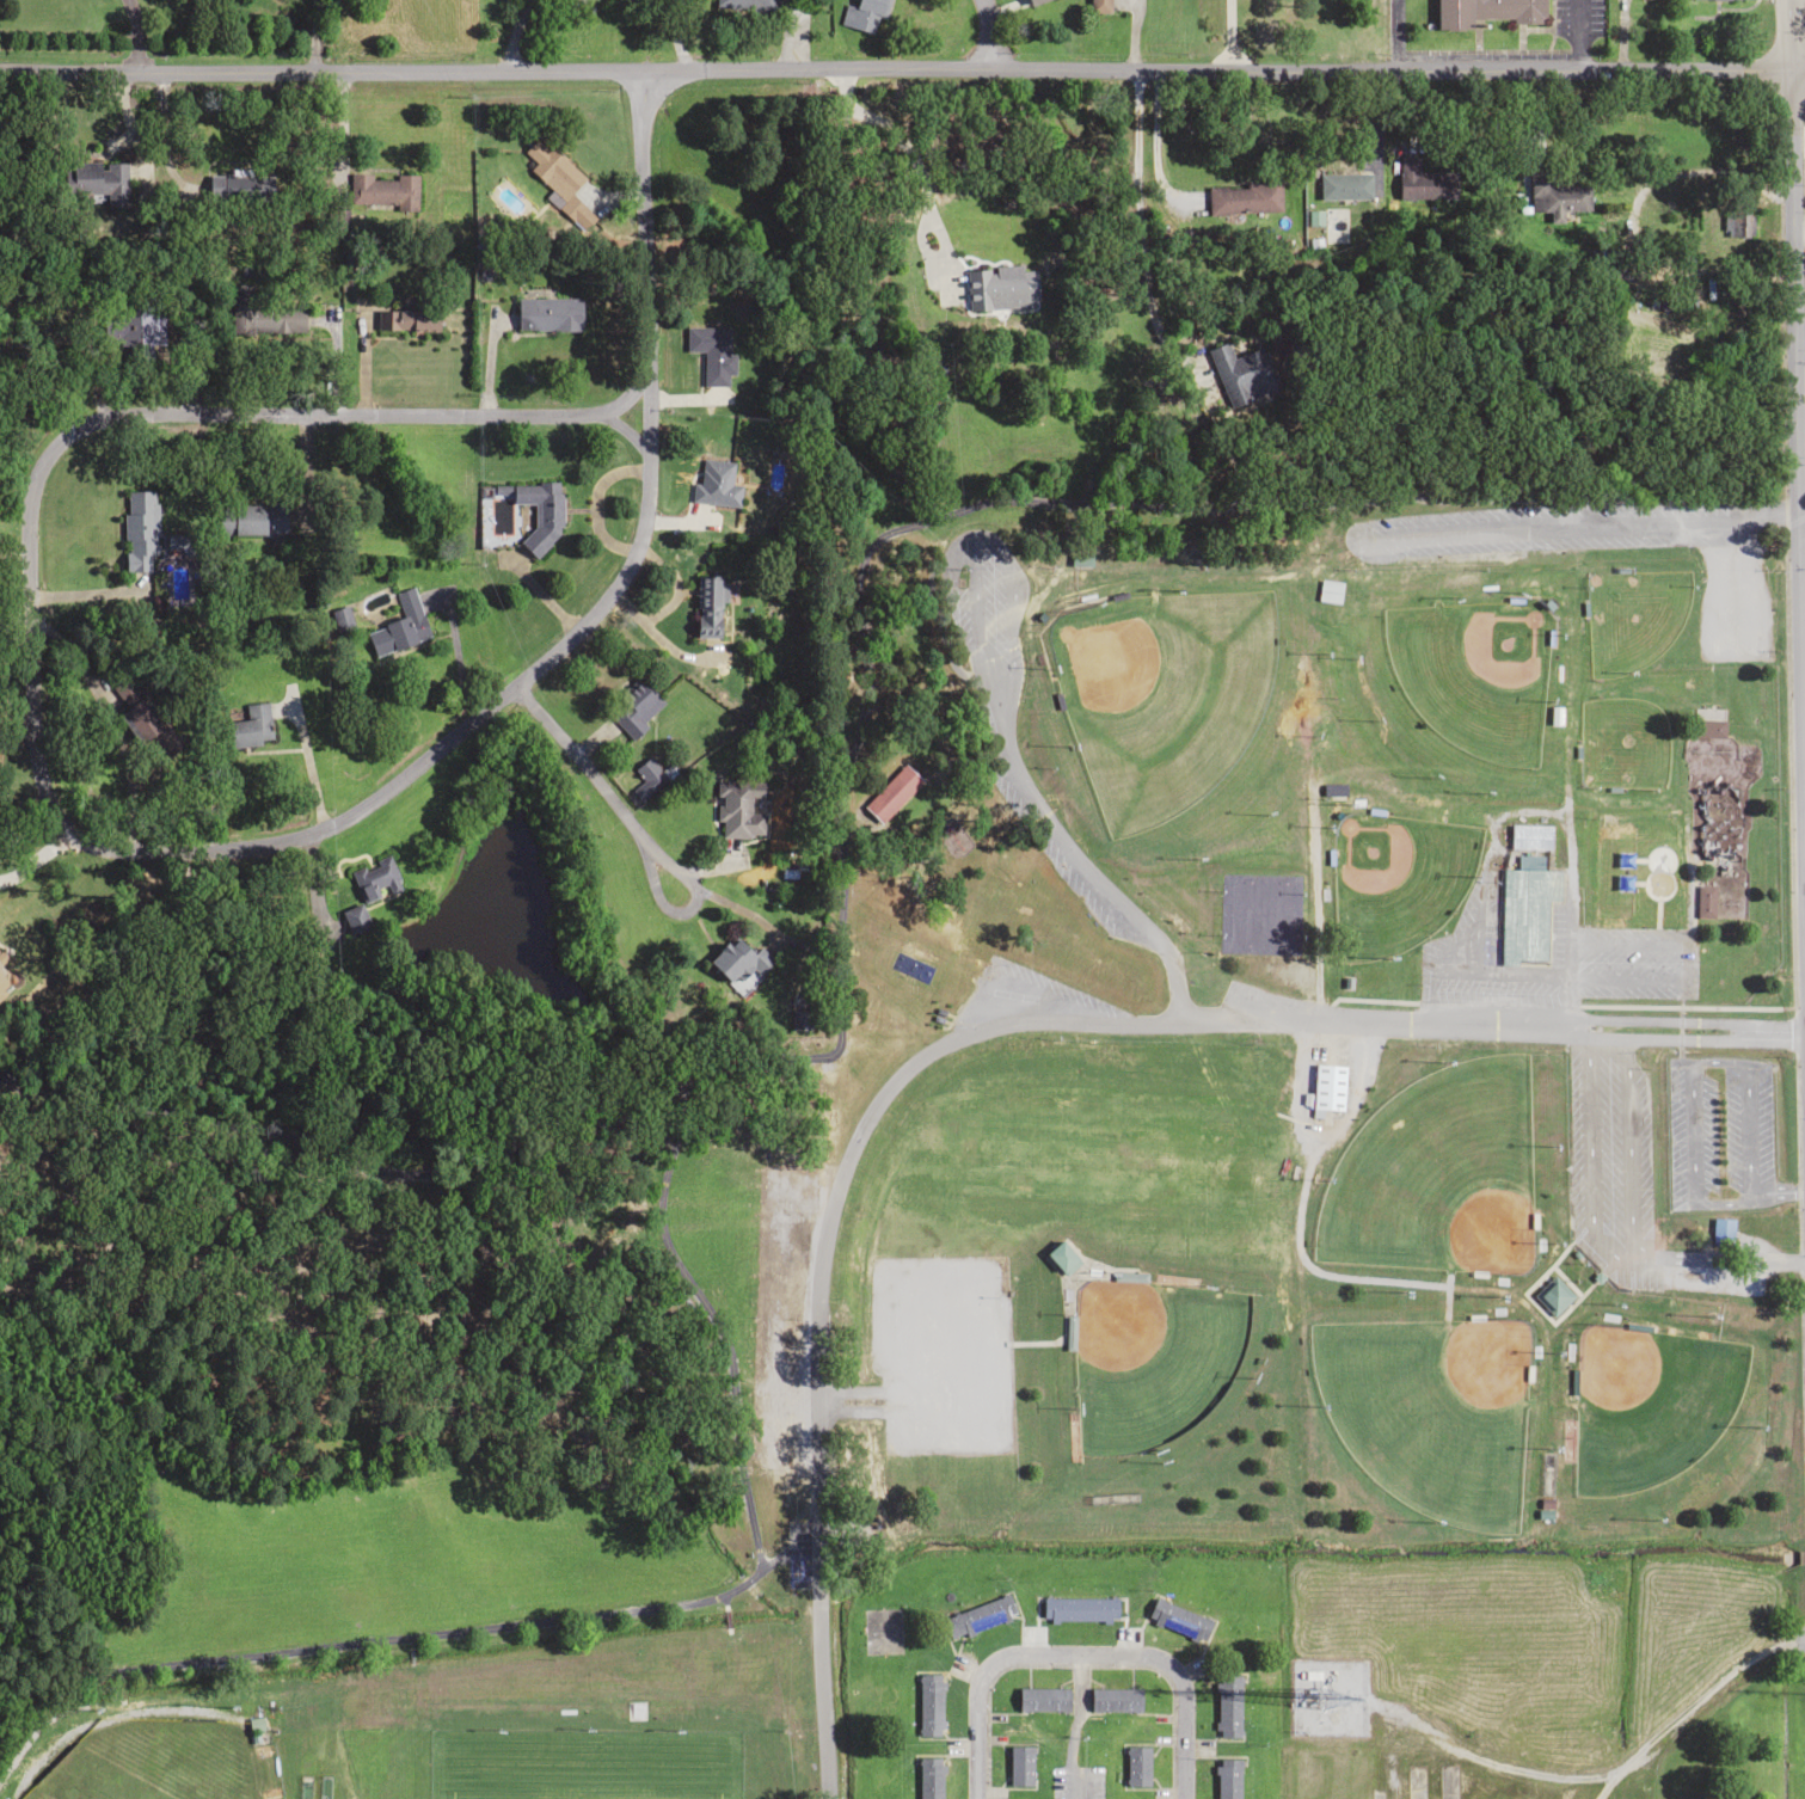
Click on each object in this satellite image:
building: (1033, 1)
building: (753, 6)
building: (1100, 6)
building: (1486, 12)
building: (867, 14)
road: (987, 32)
road: (505, 35)
road: (902, 67)
building: (552, 168)
building: (1424, 180)
building: (99, 182)
building: (1345, 185)
building: (381, 189)
building: (1558, 196)
building: (1250, 197)
building: (1737, 222)
road: (646, 241)
building: (1001, 287)
building: (548, 312)
building: (405, 317)
building: (711, 352)
building: (1242, 372)
building: (716, 483)
building: (539, 511)
building: (250, 518)
road: (1584, 526)
building: (139, 530)
road: (1798, 541)
road: (1801, 541)
building: (1080, 558)
building: (1328, 590)
building: (707, 606)
park: (1631, 616)
building: (394, 627)
park: (1474, 671)
park: (1160, 693)
building: (633, 706)
road: (466, 724)
building: (248, 726)
building: (1707, 727)
park: (1621, 743)
building: (646, 778)
building: (1332, 790)
park: (1418, 791)
building: (891, 793)
road: (1029, 799)
road: (636, 834)
building: (1530, 836)
park: (1615, 867)
park: (1656, 868)
building: (374, 879)
park: (1395, 879)
building: (1705, 901)
building: (1527, 908)
park: (1272, 916)
building: (737, 963)
road: (1234, 1021)
building: (1327, 1086)
park: (1437, 1171)
building: (1721, 1232)
building: (1061, 1257)
building: (1552, 1295)
park: (1155, 1365)
park: (1647, 1402)
park: (1430, 1408)
building: (1079, 1609)
building: (978, 1616)
building: (1178, 1620)
road: (1076, 1653)
building: (1043, 1699)
building: (1115, 1700)
building: (929, 1703)
building: (1228, 1706)
building: (254, 1724)
road: (1073, 1725)
park: (146, 1756)
building: (1019, 1766)
building: (1136, 1766)
building: (929, 1777)
building: (1227, 1777)

